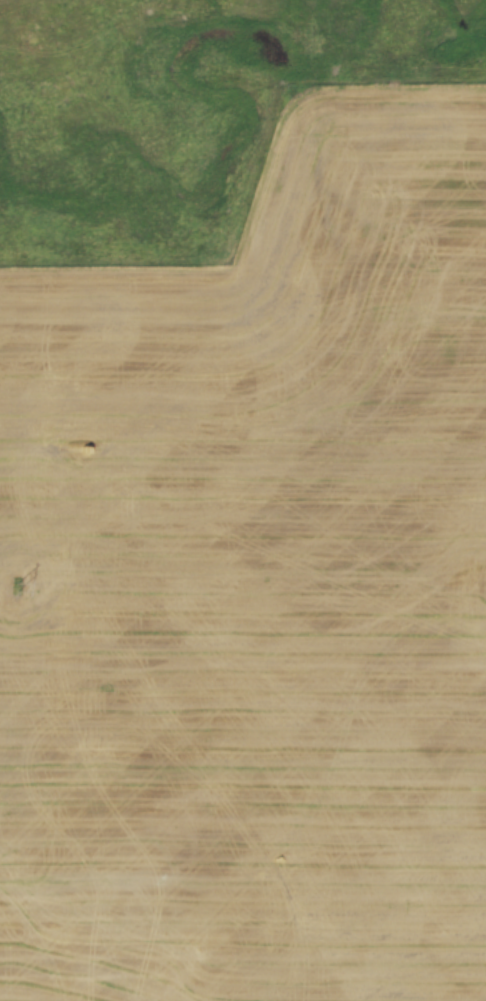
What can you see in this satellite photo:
power tower: (14, 588)

